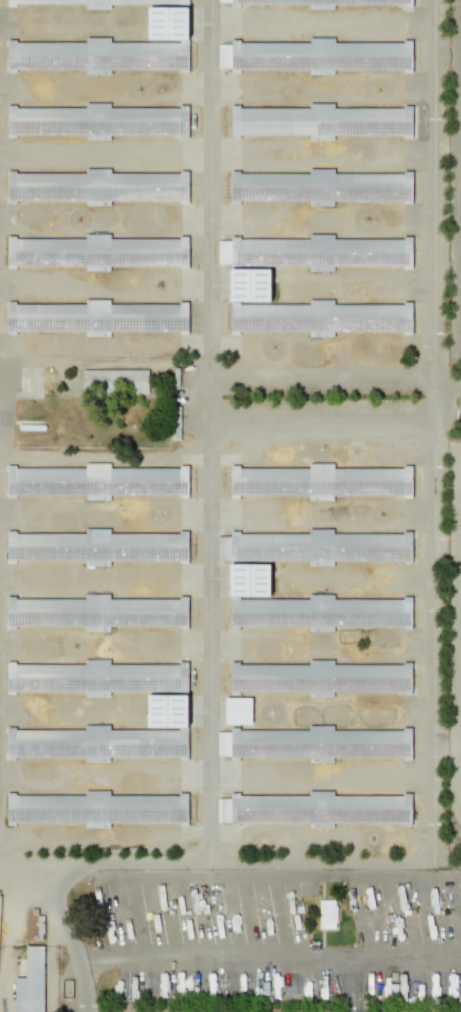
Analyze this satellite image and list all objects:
building: (158, 0)
building: (241, 2)
building: (74, 3)
building: (168, 23)
building: (264, 54)
building: (37, 112)
building: (10, 113)
building: (285, 122)
building: (35, 179)
road: (433, 186)
building: (114, 382)
road: (437, 398)
road: (449, 398)
road: (210, 431)
road: (441, 443)
theme park: (230, 506)
building: (17, 540)
building: (244, 565)
building: (238, 710)
building: (167, 711)
building: (223, 743)
road: (431, 753)
road: (104, 866)
road: (283, 875)
building: (327, 914)
road: (62, 917)
building: (34, 928)
road: (250, 963)
building: (30, 982)

